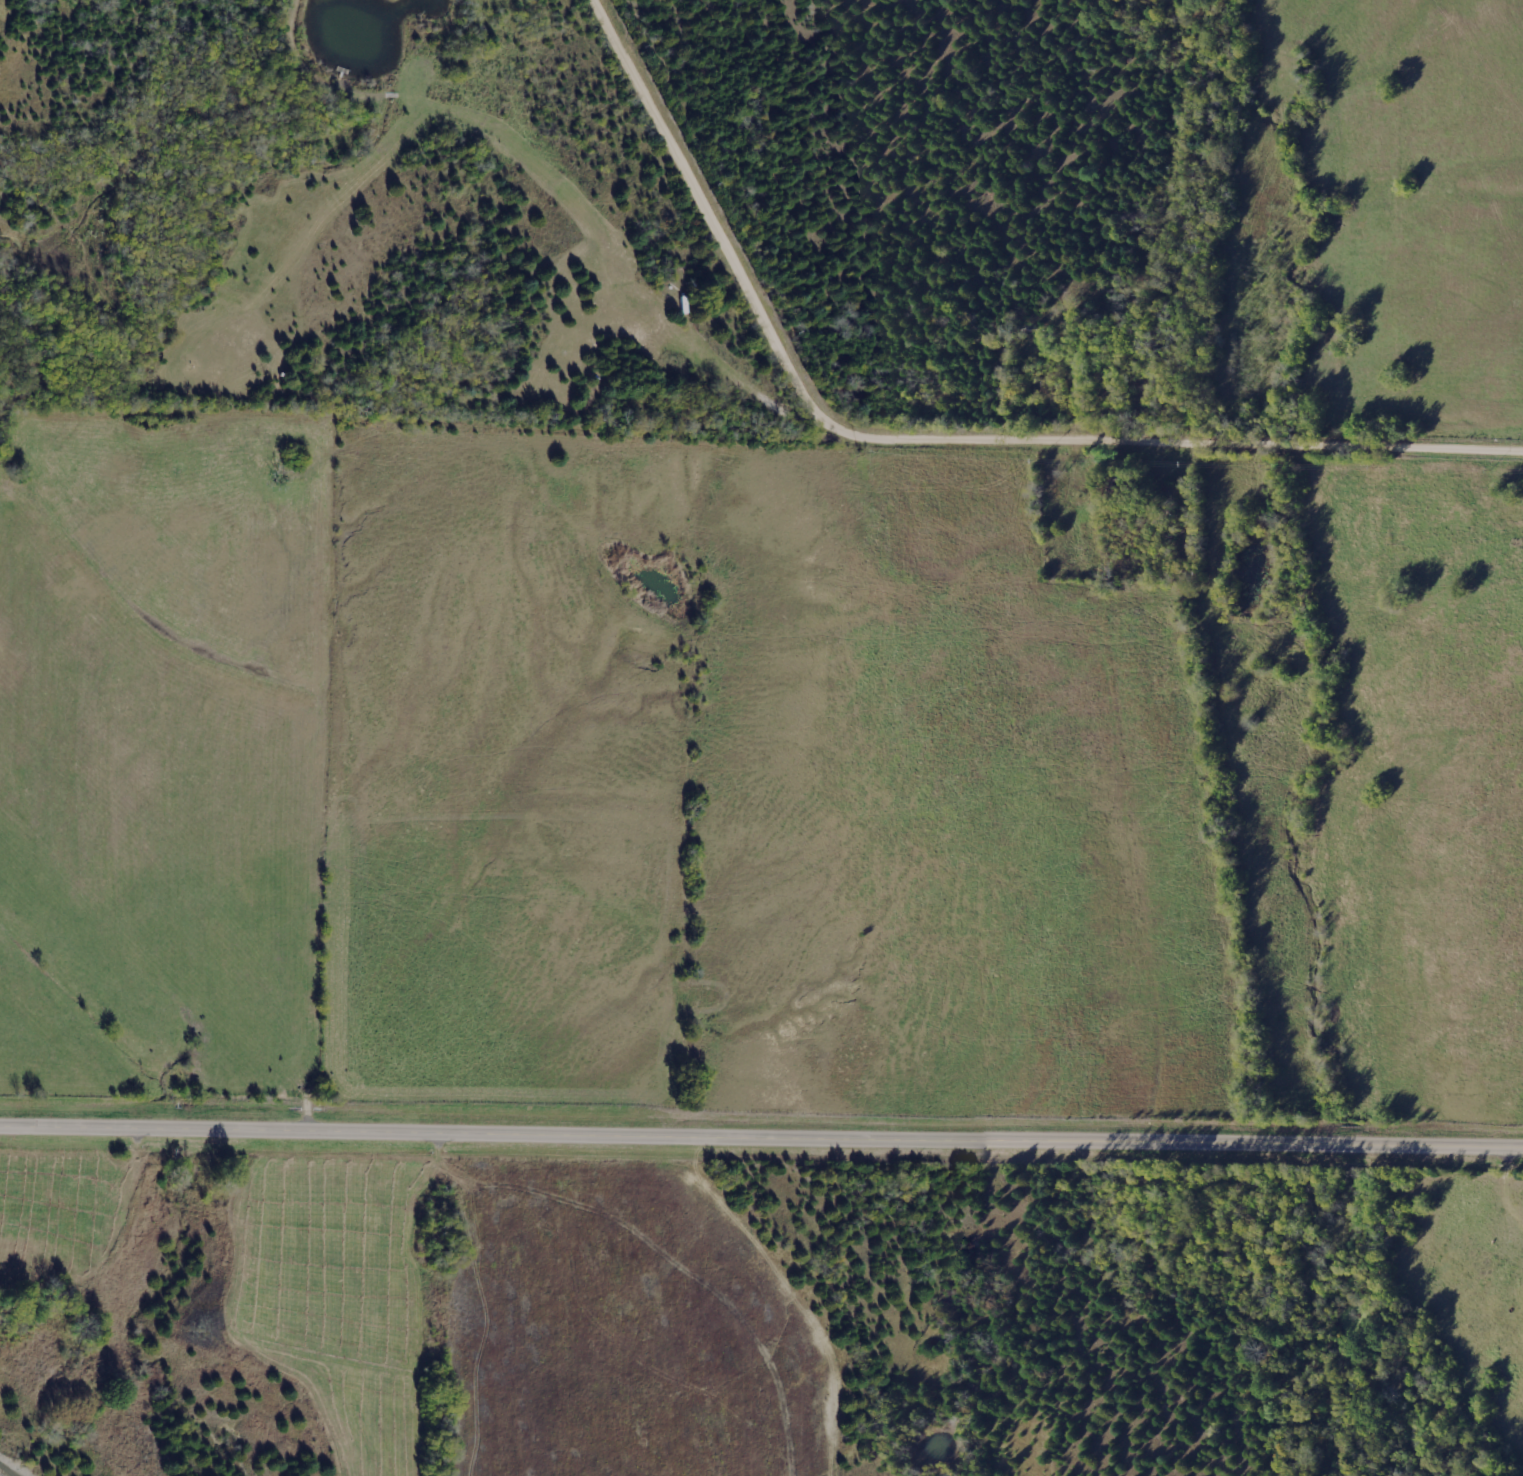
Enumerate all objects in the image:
road: (939, 420)
road: (761, 1133)

